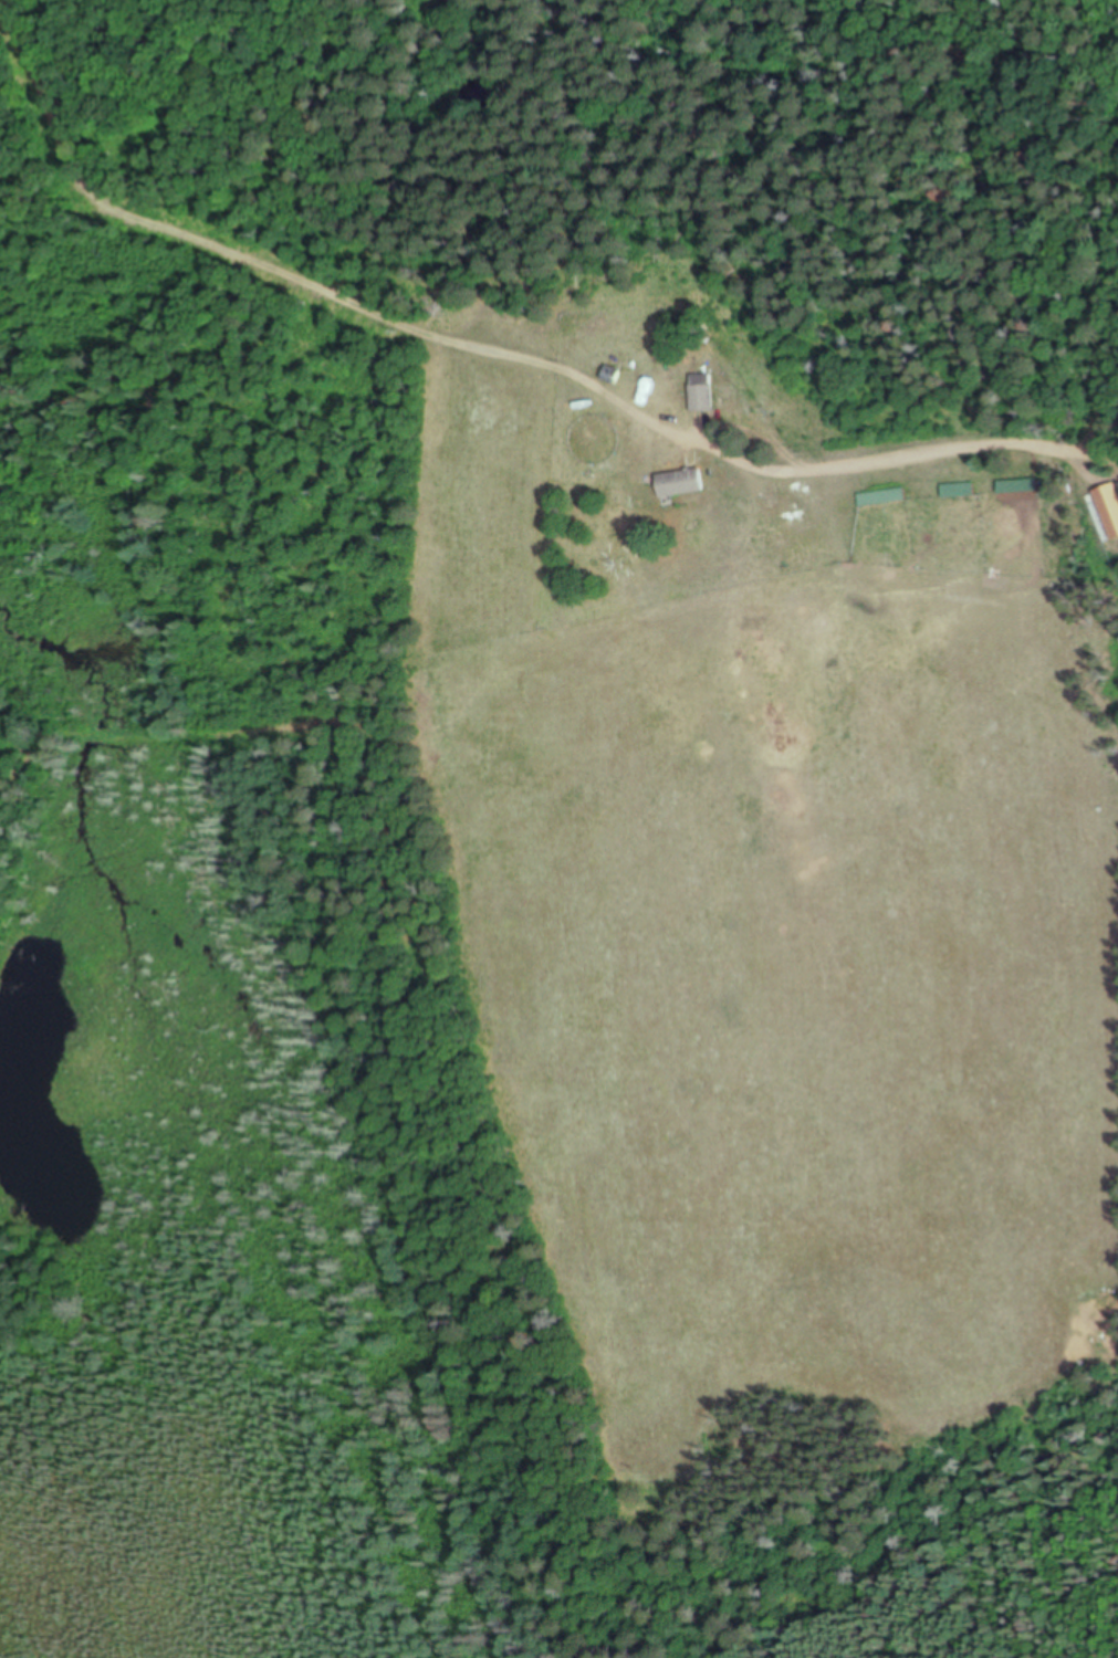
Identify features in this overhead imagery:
building: (609, 377)
building: (697, 395)
road: (928, 459)
building: (676, 485)
building: (1014, 487)
building: (954, 492)
building: (877, 499)

